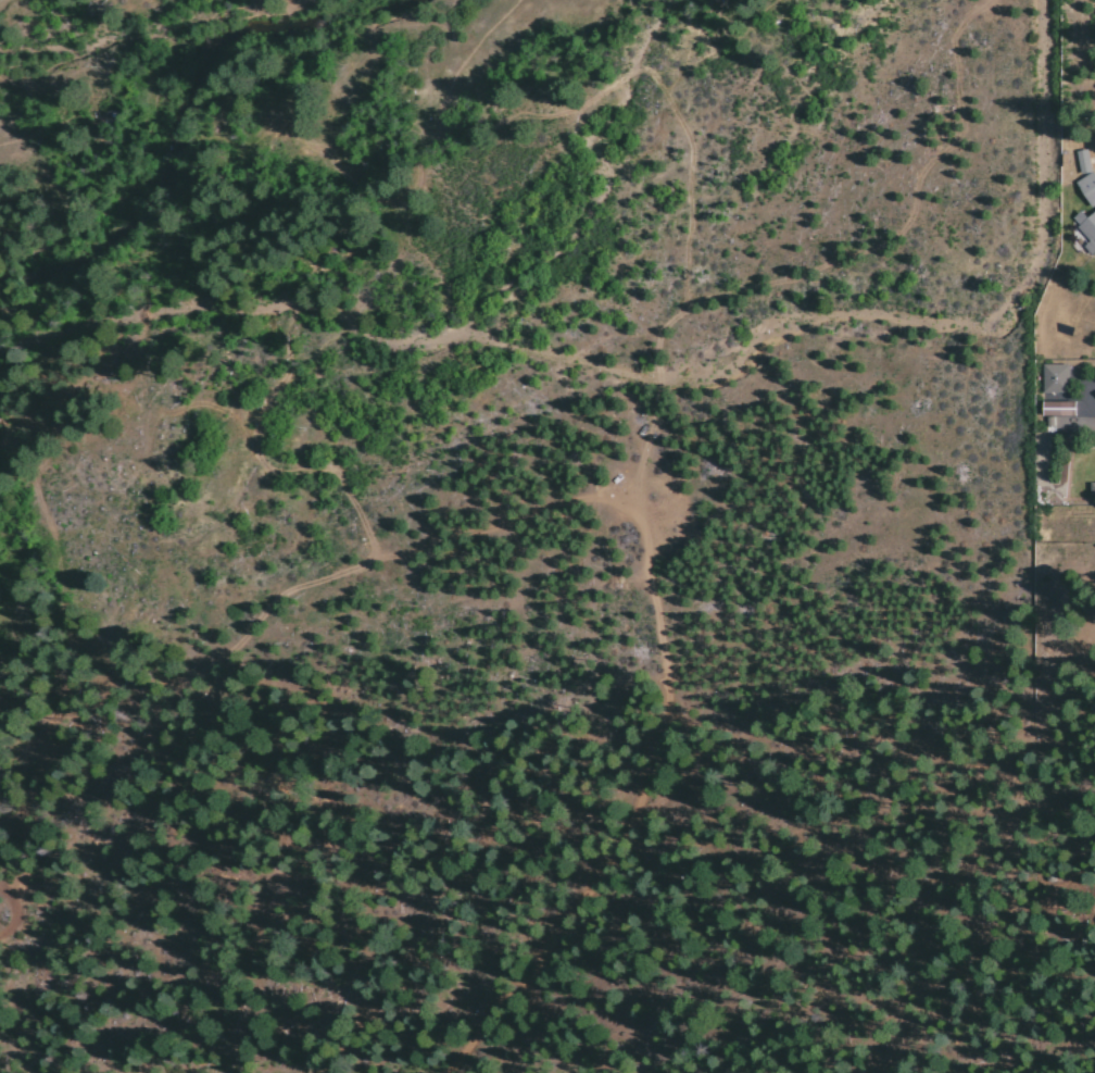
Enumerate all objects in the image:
building: (1081, 162)
building: (1086, 188)
building: (1086, 229)
building: (1053, 379)
road: (1071, 406)
building: (1056, 409)
building: (1091, 488)

